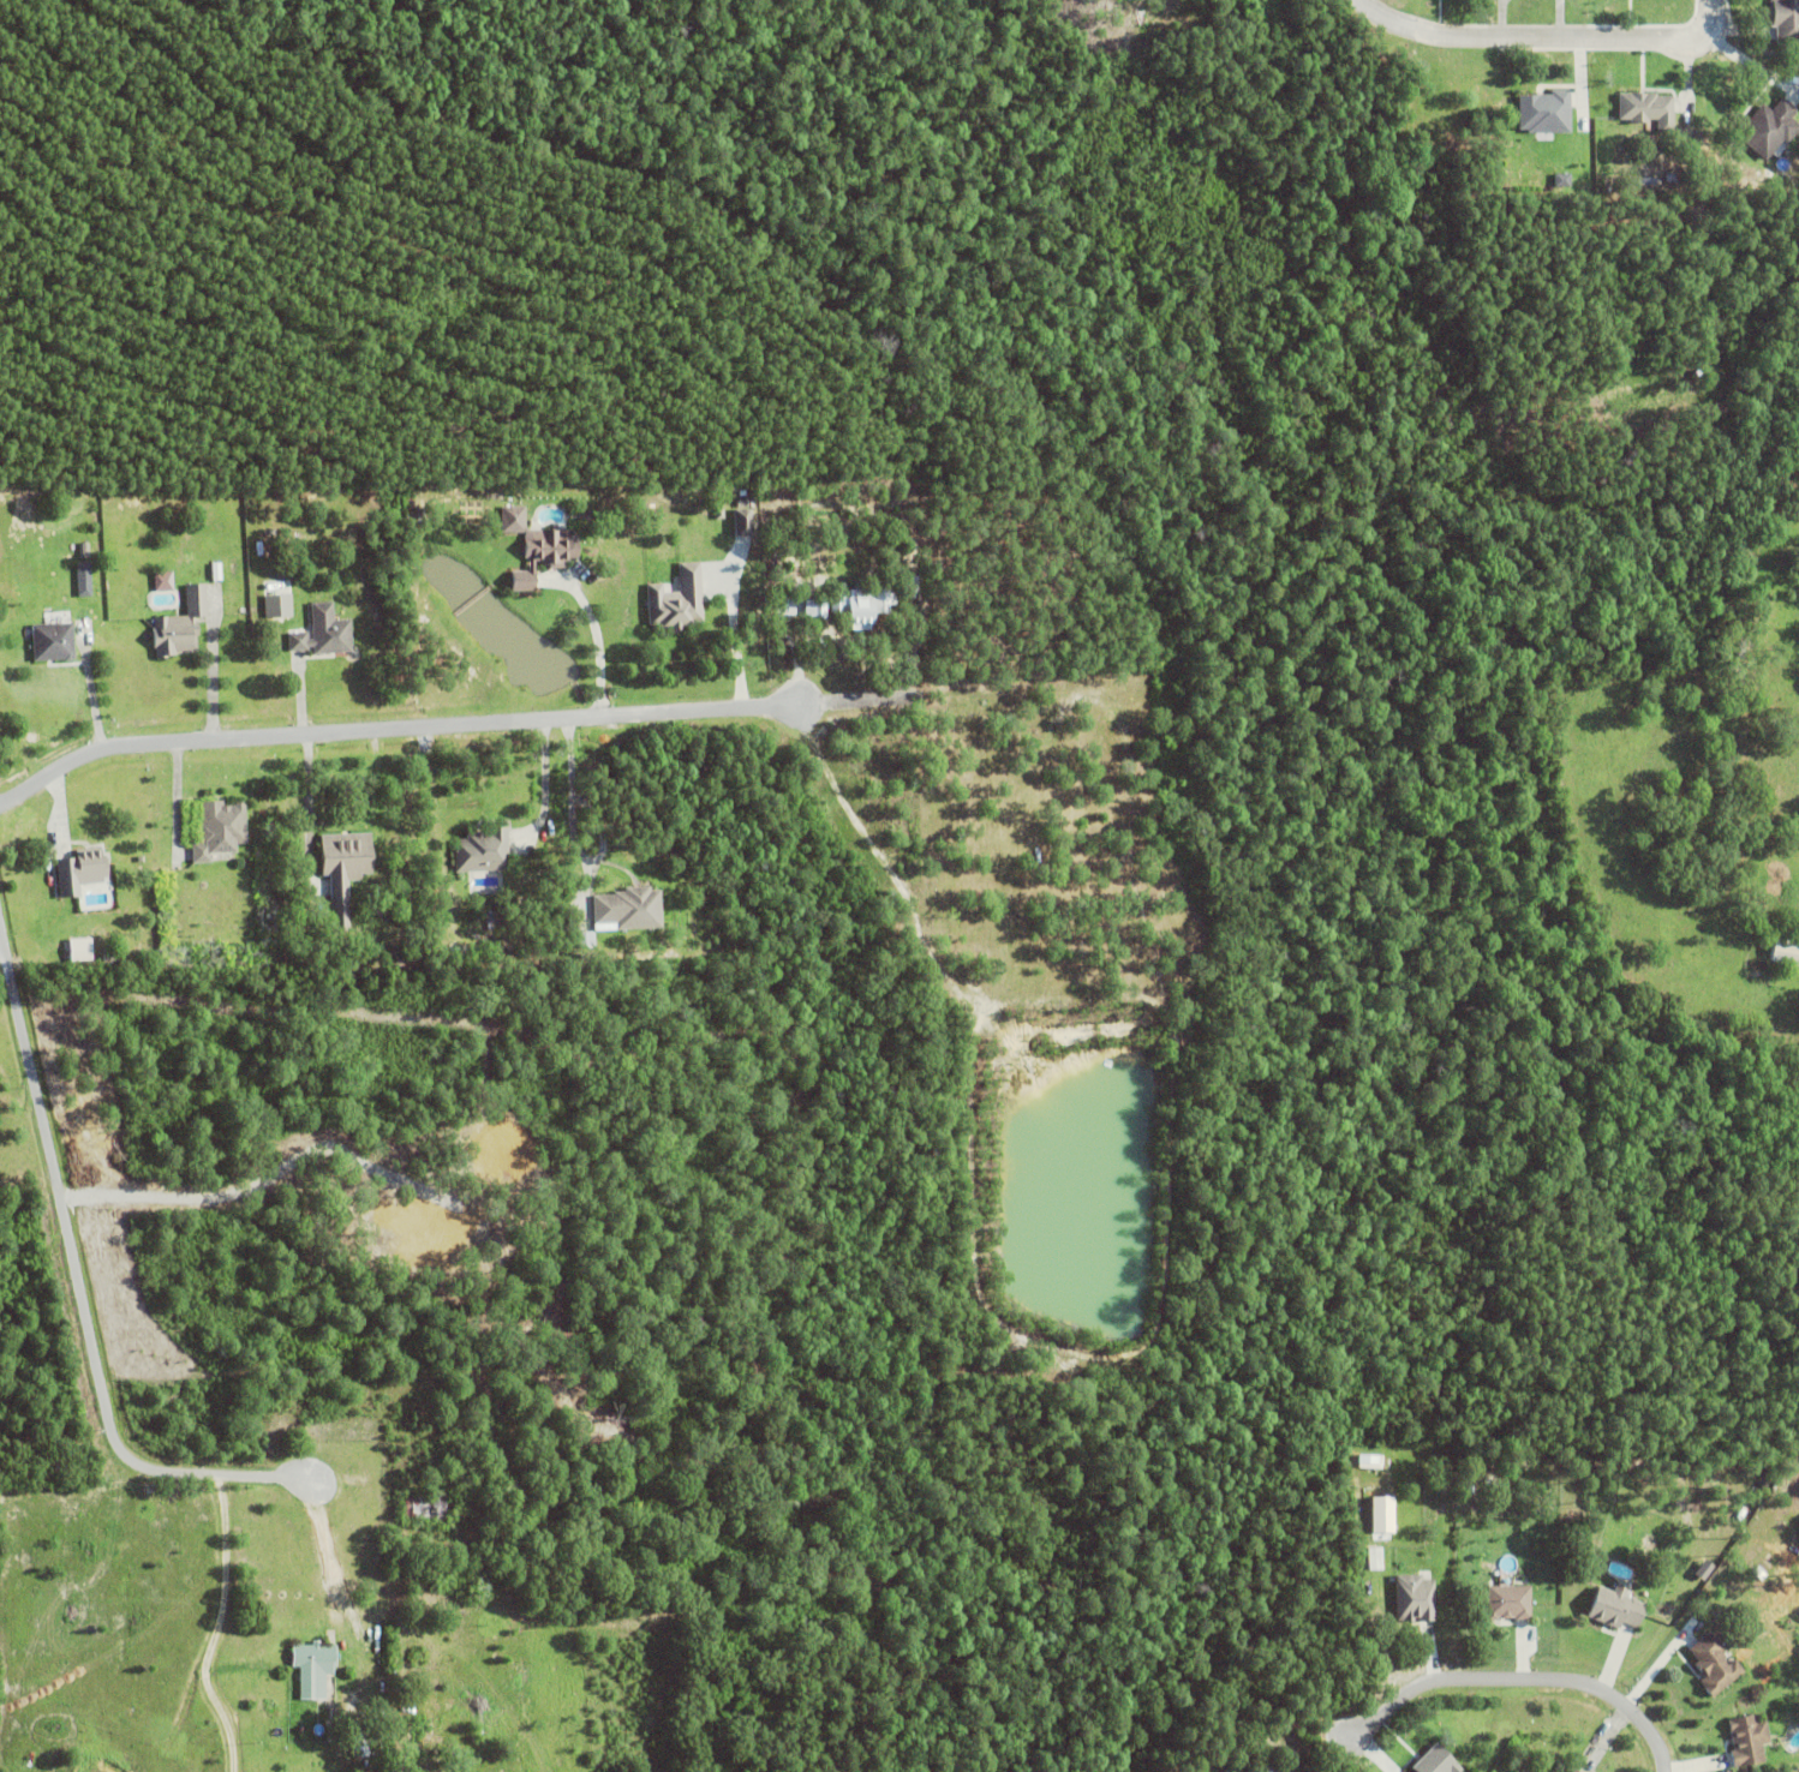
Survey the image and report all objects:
road: (1698, 13)
building: (1785, 22)
road: (1523, 35)
road: (1745, 60)
road: (1225, 61)
building: (1646, 112)
building: (1546, 115)
building: (1769, 131)
building: (1672, 180)
building: (1562, 182)
building: (494, 502)
building: (747, 504)
building: (588, 514)
building: (544, 551)
building: (216, 569)
building: (84, 577)
building: (165, 580)
building: (677, 597)
building: (277, 604)
building: (863, 606)
building: (180, 622)
building: (323, 630)
building: (52, 639)
road: (598, 646)
road: (455, 726)
road: (542, 784)
building: (221, 827)
road: (572, 834)
building: (378, 845)
building: (483, 849)
building: (345, 868)
building: (82, 869)
road: (1, 936)
building: (83, 947)
building: (1785, 950)
road: (79, 1282)
building: (1469, 1483)
building: (425, 1507)
building: (1386, 1513)
building: (1376, 1557)
road: (329, 1564)
building: (1759, 1573)
building: (1415, 1598)
building: (1507, 1602)
building: (1615, 1608)
road: (220, 1628)
building: (316, 1656)
building: (1714, 1664)
road: (1526, 1677)
building: (429, 1735)
building: (1749, 1740)
building: (367, 1743)
building: (1436, 1761)
building: (1262, 1767)
building: (1579, 1770)
building: (1574, 1771)

